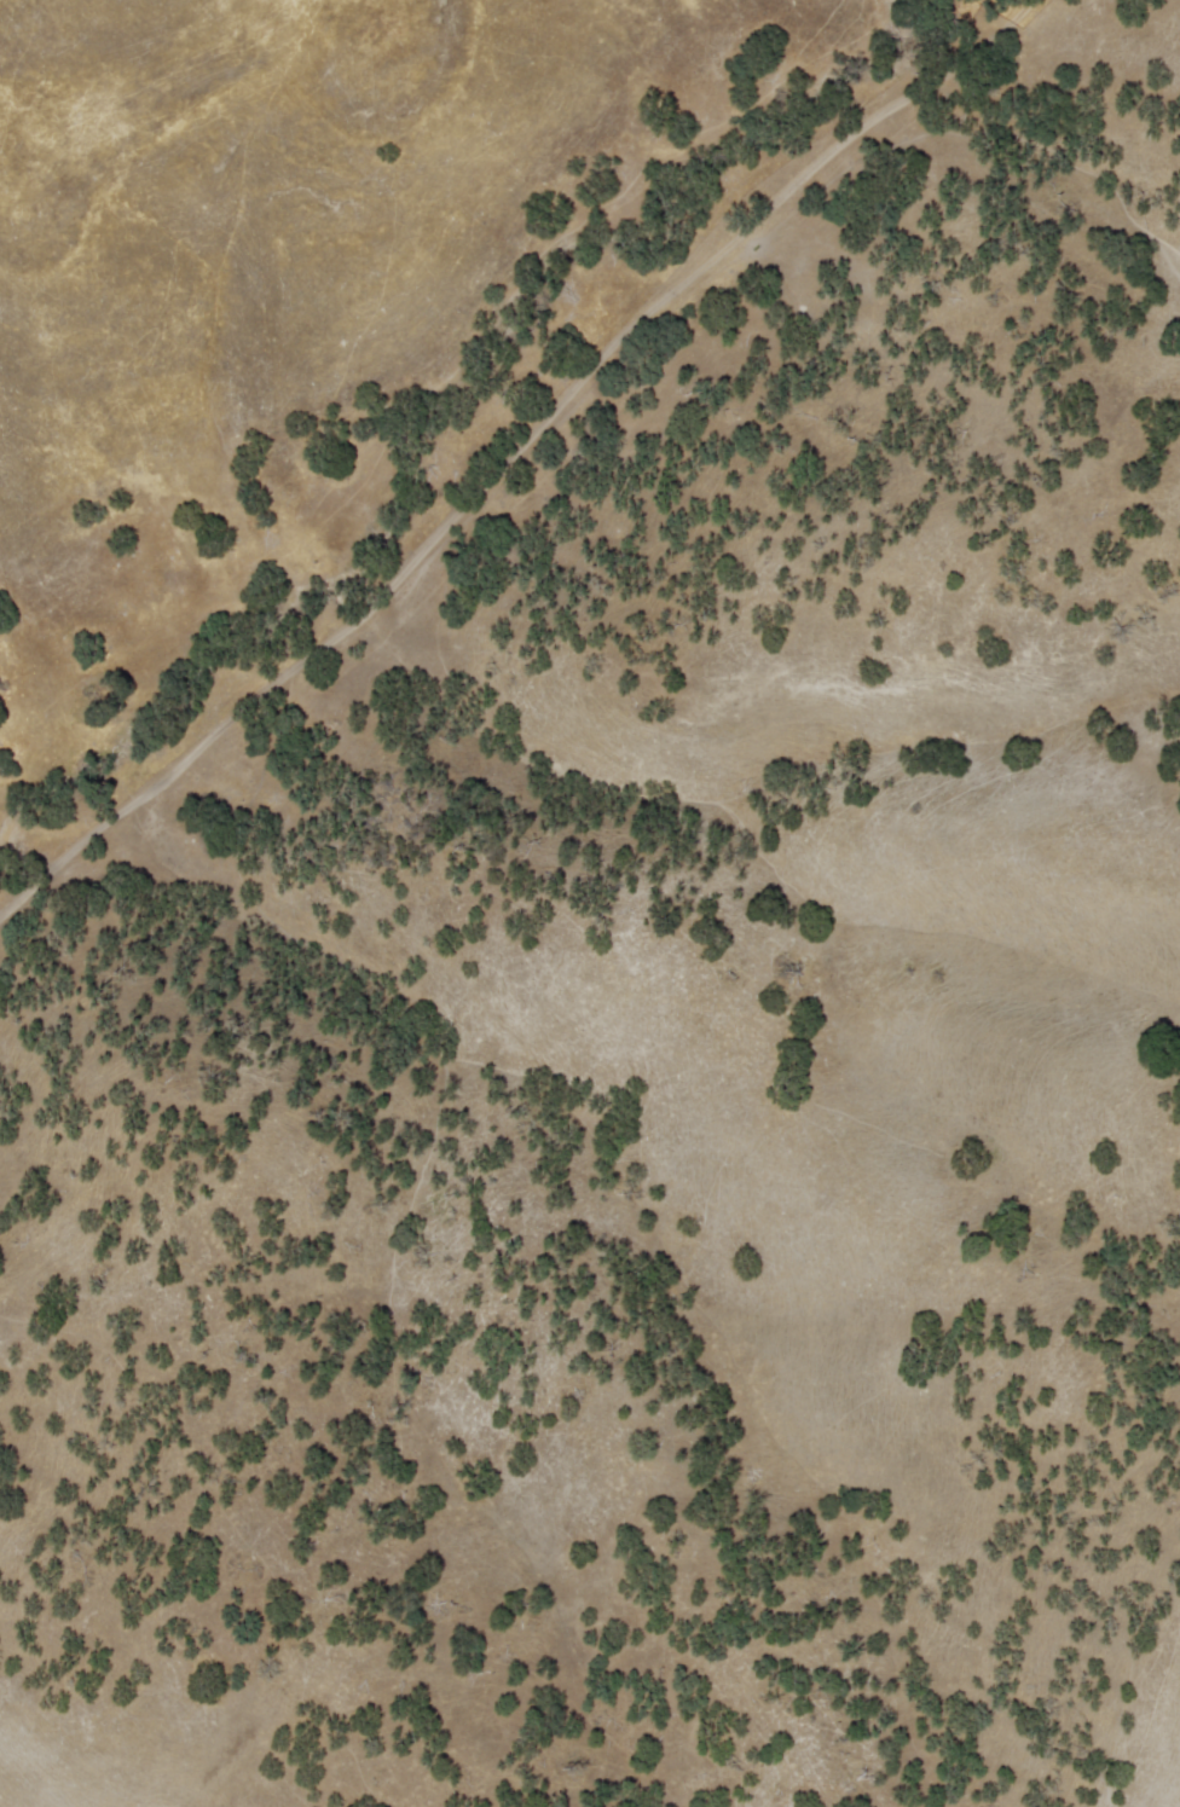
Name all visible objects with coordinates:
road: (513, 454)

